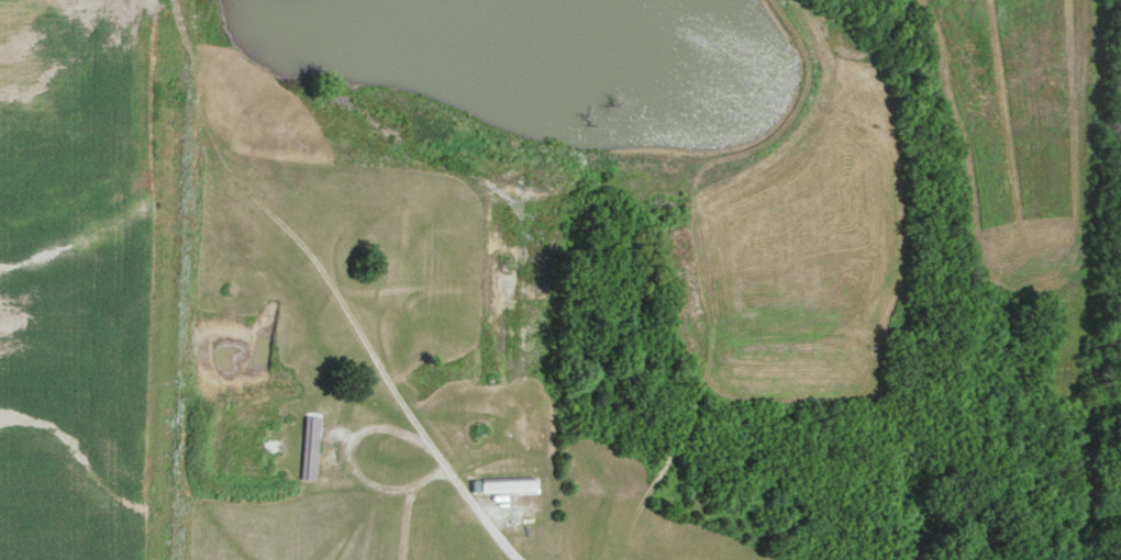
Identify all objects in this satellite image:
building: (309, 445)
building: (506, 482)
road: (495, 530)

